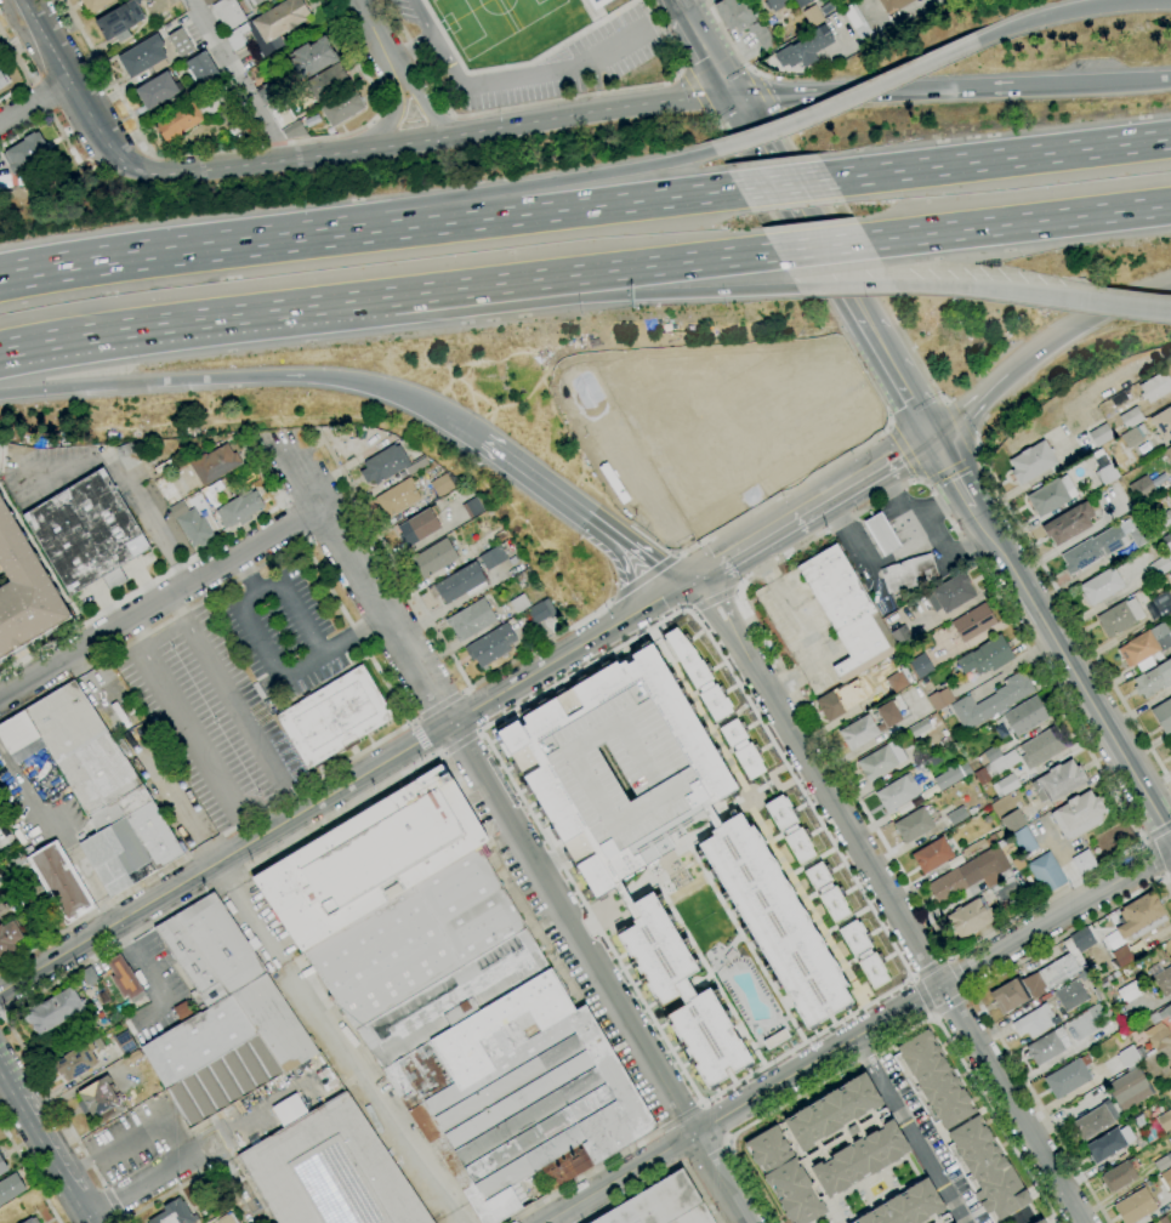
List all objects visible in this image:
road: (709, 1)
building: (209, 2)
building: (254, 2)
building: (597, 2)
building: (801, 2)
building: (773, 4)
building: (893, 4)
building: (95, 5)
road: (680, 7)
building: (826, 8)
road: (1070, 11)
building: (228, 13)
parking lot: (404, 13)
building: (734, 15)
building: (812, 16)
park: (536, 17)
road: (422, 18)
road: (898, 18)
building: (280, 19)
building: (857, 21)
building: (119, 22)
park: (474, 25)
building: (237, 36)
road: (373, 38)
building: (256, 39)
building: (763, 39)
building: (180, 42)
road: (732, 44)
road: (410, 49)
building: (803, 49)
building: (142, 56)
road: (707, 56)
building: (309, 59)
road: (420, 61)
parking lot: (568, 64)
road: (682, 68)
building: (201, 69)
road: (25, 70)
road: (752, 70)
road: (530, 73)
building: (4, 78)
road: (239, 80)
road: (1153, 80)
road: (33, 83)
building: (326, 83)
road: (72, 87)
road: (695, 90)
road: (933, 90)
road: (613, 91)
building: (157, 92)
building: (268, 92)
road: (764, 92)
traffic signals: (732, 96)
road: (41, 97)
road: (846, 99)
road: (34, 103)
road: (424, 103)
building: (208, 106)
building: (342, 108)
building: (239, 110)
road: (447, 112)
road: (50, 113)
road: (711, 114)
road: (433, 115)
road: (47, 116)
road: (411, 119)
building: (178, 120)
road: (371, 121)
road: (387, 121)
road: (387, 121)
building: (239, 129)
building: (294, 131)
road: (432, 138)
road: (241, 147)
building: (25, 153)
road: (1000, 158)
road: (783, 183)
road: (519, 186)
road: (800, 211)
road: (534, 212)
road: (1018, 222)
road: (819, 246)
road: (165, 256)
road: (858, 258)
road: (664, 263)
road: (472, 285)
road: (931, 286)
road: (843, 288)
road: (672, 292)
road: (1069, 300)
road: (194, 319)
road: (1044, 347)
road: (862, 364)
road: (241, 377)
road: (902, 381)
building: (1155, 387)
building: (1131, 417)
building: (1163, 423)
road: (962, 427)
building: (1142, 430)
building: (325, 431)
building: (360, 434)
building: (1101, 436)
traffic signals: (934, 437)
building: (1130, 437)
road: (904, 451)
building: (1097, 453)
road: (500, 454)
building: (1167, 454)
building: (126, 456)
building: (1102, 460)
building: (1031, 462)
building: (214, 465)
building: (383, 465)
building: (416, 465)
building: (163, 466)
road: (631, 468)
road: (953, 470)
road: (955, 471)
building: (1107, 473)
building: (1159, 479)
building: (442, 485)
building: (220, 487)
building: (1142, 489)
road: (842, 490)
road: (893, 494)
building: (1051, 495)
building: (397, 497)
road: (936, 502)
building: (472, 507)
building: (239, 508)
building: (178, 510)
building: (1068, 523)
building: (1160, 523)
road: (876, 524)
building: (419, 527)
building: (194, 528)
road: (608, 530)
building: (86, 533)
road: (826, 533)
road: (881, 533)
building: (881, 534)
gas station: (881, 534)
building: (1141, 534)
road: (161, 541)
road: (887, 542)
road: (693, 545)
road: (295, 546)
building: (1166, 546)
building: (1092, 548)
road: (680, 552)
road: (858, 552)
road: (735, 556)
road: (618, 557)
building: (433, 558)
building: (493, 558)
road: (762, 562)
building: (1159, 565)
road: (174, 570)
road: (705, 573)
building: (909, 574)
road: (642, 576)
building: (461, 582)
building: (1102, 586)
building: (24, 588)
road: (667, 593)
traffic signals: (670, 593)
building: (950, 593)
building: (1170, 596)
road: (716, 598)
road: (160, 601)
building: (519, 603)
building: (1161, 603)
road: (295, 605)
building: (538, 613)
building: (846, 613)
building: (1120, 618)
building: (471, 620)
road: (1074, 621)
building: (973, 622)
road: (802, 627)
road: (434, 630)
road: (607, 630)
building: (902, 635)
building: (490, 645)
parking lot: (275, 648)
building: (1146, 648)
building: (985, 656)
road: (275, 666)
building: (921, 666)
road: (1071, 671)
building: (695, 673)
building: (1153, 679)
building: (896, 682)
road: (784, 683)
road: (464, 690)
building: (939, 699)
building: (837, 701)
building: (991, 701)
road: (235, 702)
road: (438, 705)
building: (1163, 715)
building: (334, 716)
building: (887, 716)
building: (1025, 716)
road: (414, 719)
road: (410, 724)
road: (191, 726)
building: (919, 728)
road: (477, 730)
building: (17, 732)
building: (858, 733)
road: (421, 740)
road: (460, 741)
building: (1169, 741)
building: (1042, 746)
building: (81, 747)
building: (740, 749)
building: (1170, 751)
road: (443, 753)
building: (991, 753)
road: (430, 755)
building: (881, 761)
building: (1002, 763)
building: (616, 767)
building: (982, 777)
building: (948, 778)
road: (817, 780)
building: (1058, 781)
building: (1005, 785)
building: (932, 791)
building: (896, 793)
building: (971, 810)
building: (1078, 814)
building: (956, 815)
road: (284, 820)
building: (1012, 821)
building: (914, 825)
building: (789, 829)
road: (513, 830)
road: (1159, 832)
building: (127, 841)
building: (1023, 841)
road: (205, 846)
building: (977, 846)
building: (932, 855)
road: (1156, 855)
building: (370, 858)
building: (955, 861)
building: (1084, 861)
building: (1018, 863)
building: (21, 864)
building: (991, 866)
road: (1169, 870)
building: (1046, 872)
road: (1166, 878)
building: (61, 882)
building: (951, 882)
building: (35, 888)
building: (1005, 889)
building: (825, 892)
road: (1048, 895)
building: (4, 900)
road: (165, 916)
road: (252, 916)
building: (968, 917)
building: (1141, 917)
building: (774, 921)
road: (1069, 934)
building: (8, 938)
building: (1082, 938)
building: (210, 950)
building: (862, 954)
building: (1122, 956)
road: (949, 957)
building: (426, 959)
building: (1063, 966)
road: (931, 969)
building: (1115, 974)
road: (956, 975)
road: (146, 978)
road: (910, 979)
building: (125, 980)
road: (905, 980)
building: (1164, 980)
road: (968, 991)
building: (1130, 991)
building: (1018, 992)
building: (682, 994)
building: (1097, 994)
building: (1070, 995)
road: (923, 1000)
road: (949, 1002)
building: (53, 1009)
building: (1164, 1013)
road: (1, 1014)
building: (1034, 1022)
road: (858, 1035)
building: (1158, 1036)
road: (893, 1040)
building: (124, 1042)
building: (1046, 1046)
building: (227, 1051)
building: (1141, 1052)
building: (132, 1056)
building: (1127, 1057)
building: (75, 1062)
building: (1170, 1070)
building: (1068, 1077)
building: (934, 1080)
building: (1129, 1090)
building: (519, 1096)
road: (369, 1098)
building: (100, 1100)
road: (1008, 1103)
road: (1040, 1108)
road: (680, 1117)
building: (1095, 1120)
building: (1165, 1120)
road: (717, 1121)
road: (909, 1130)
building: (1109, 1143)
road: (44, 1148)
road: (669, 1149)
building: (825, 1149)
road: (706, 1153)
building: (1161, 1164)
building: (2, 1167)
building: (987, 1168)
road: (30, 1170)
building: (330, 1171)
road: (665, 1176)
road: (581, 1177)
building: (1119, 1177)
building: (1166, 1179)
road: (142, 1184)
building: (10, 1187)
road: (166, 1195)
road: (115, 1202)
building: (661, 1205)
building: (1135, 1206)
building: (908, 1207)
building: (175, 1213)
building: (228, 1219)
building: (32, 1221)
building: (1039, 1221)
building: (1161, 1221)

